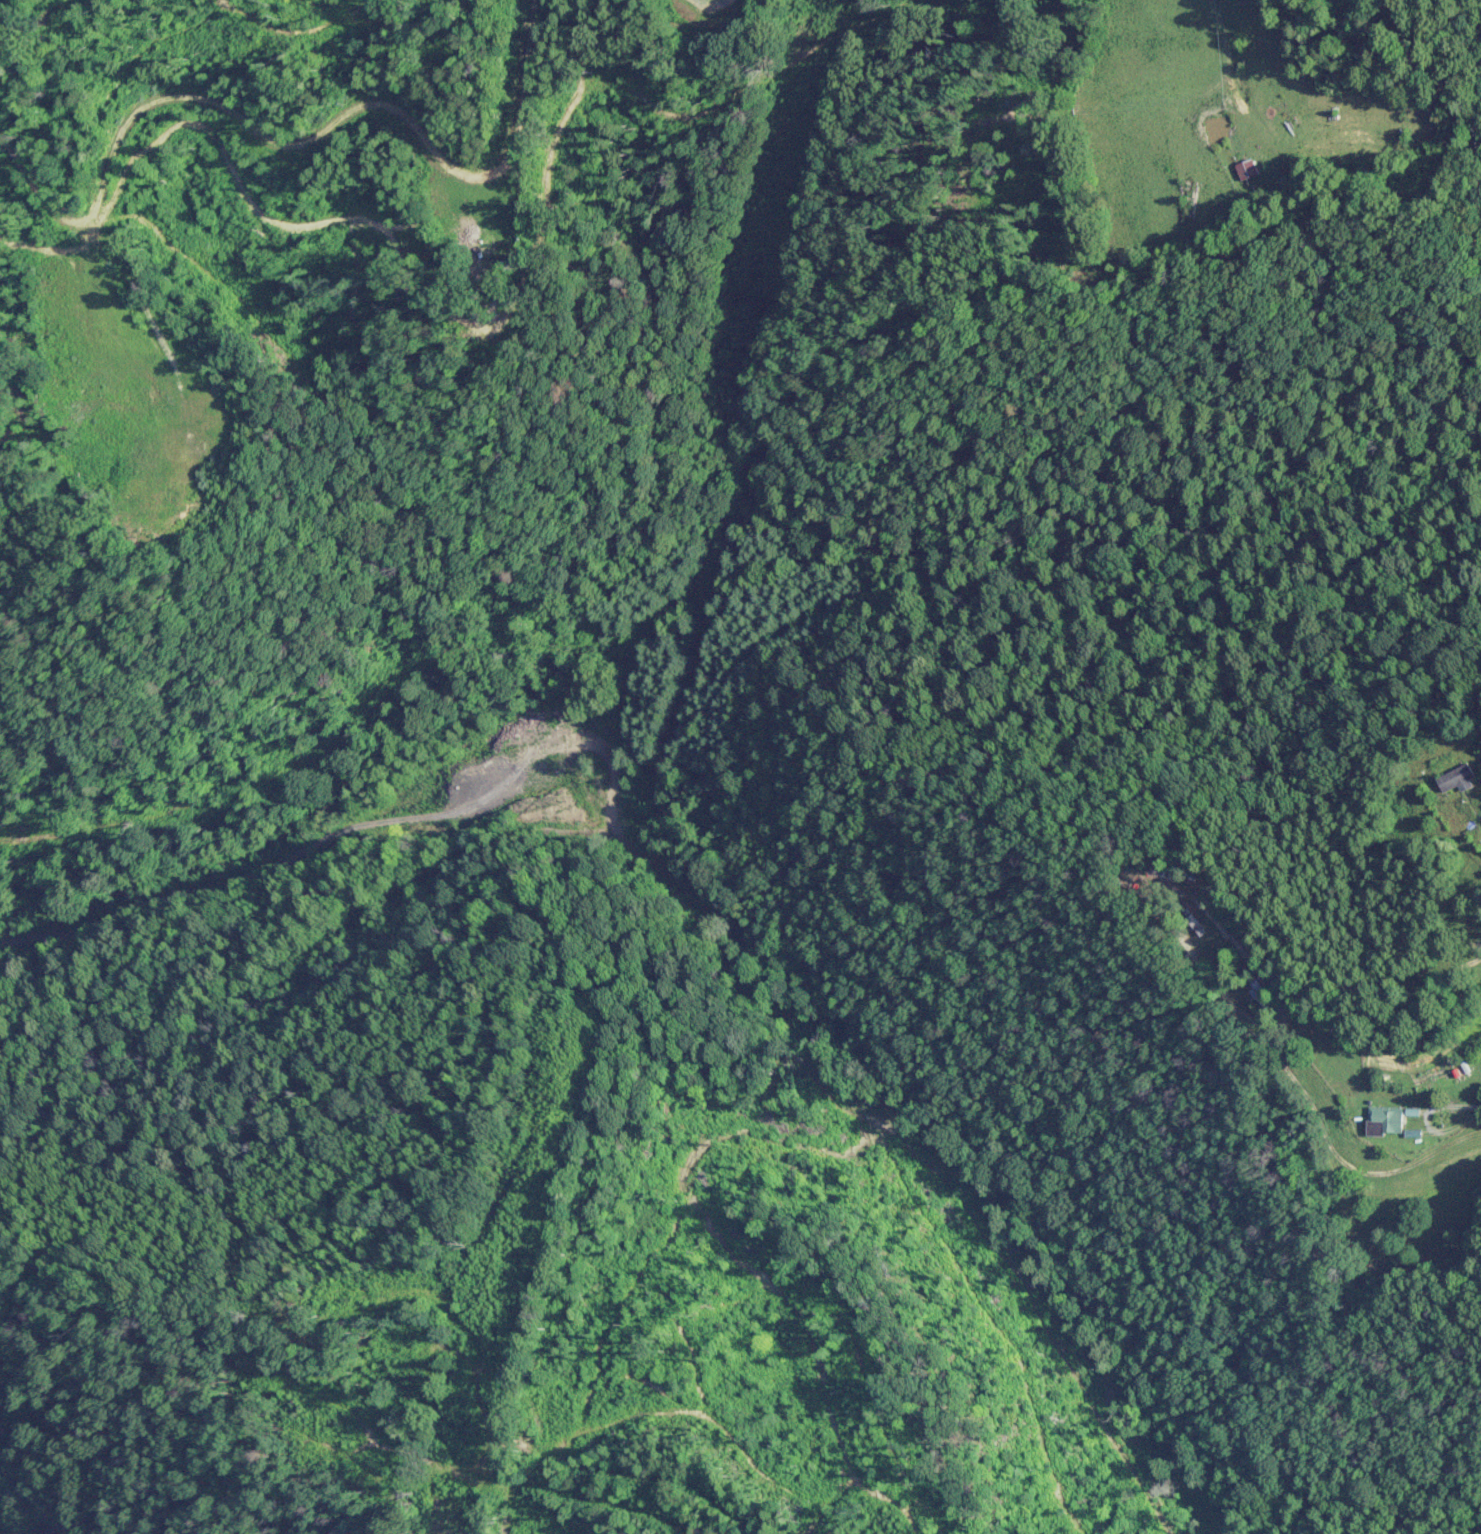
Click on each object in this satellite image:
building: (1248, 169)
building: (1459, 778)
road: (292, 796)
building: (1198, 925)
road: (1448, 982)
building: (1386, 1120)
quarry: (5, 1528)

